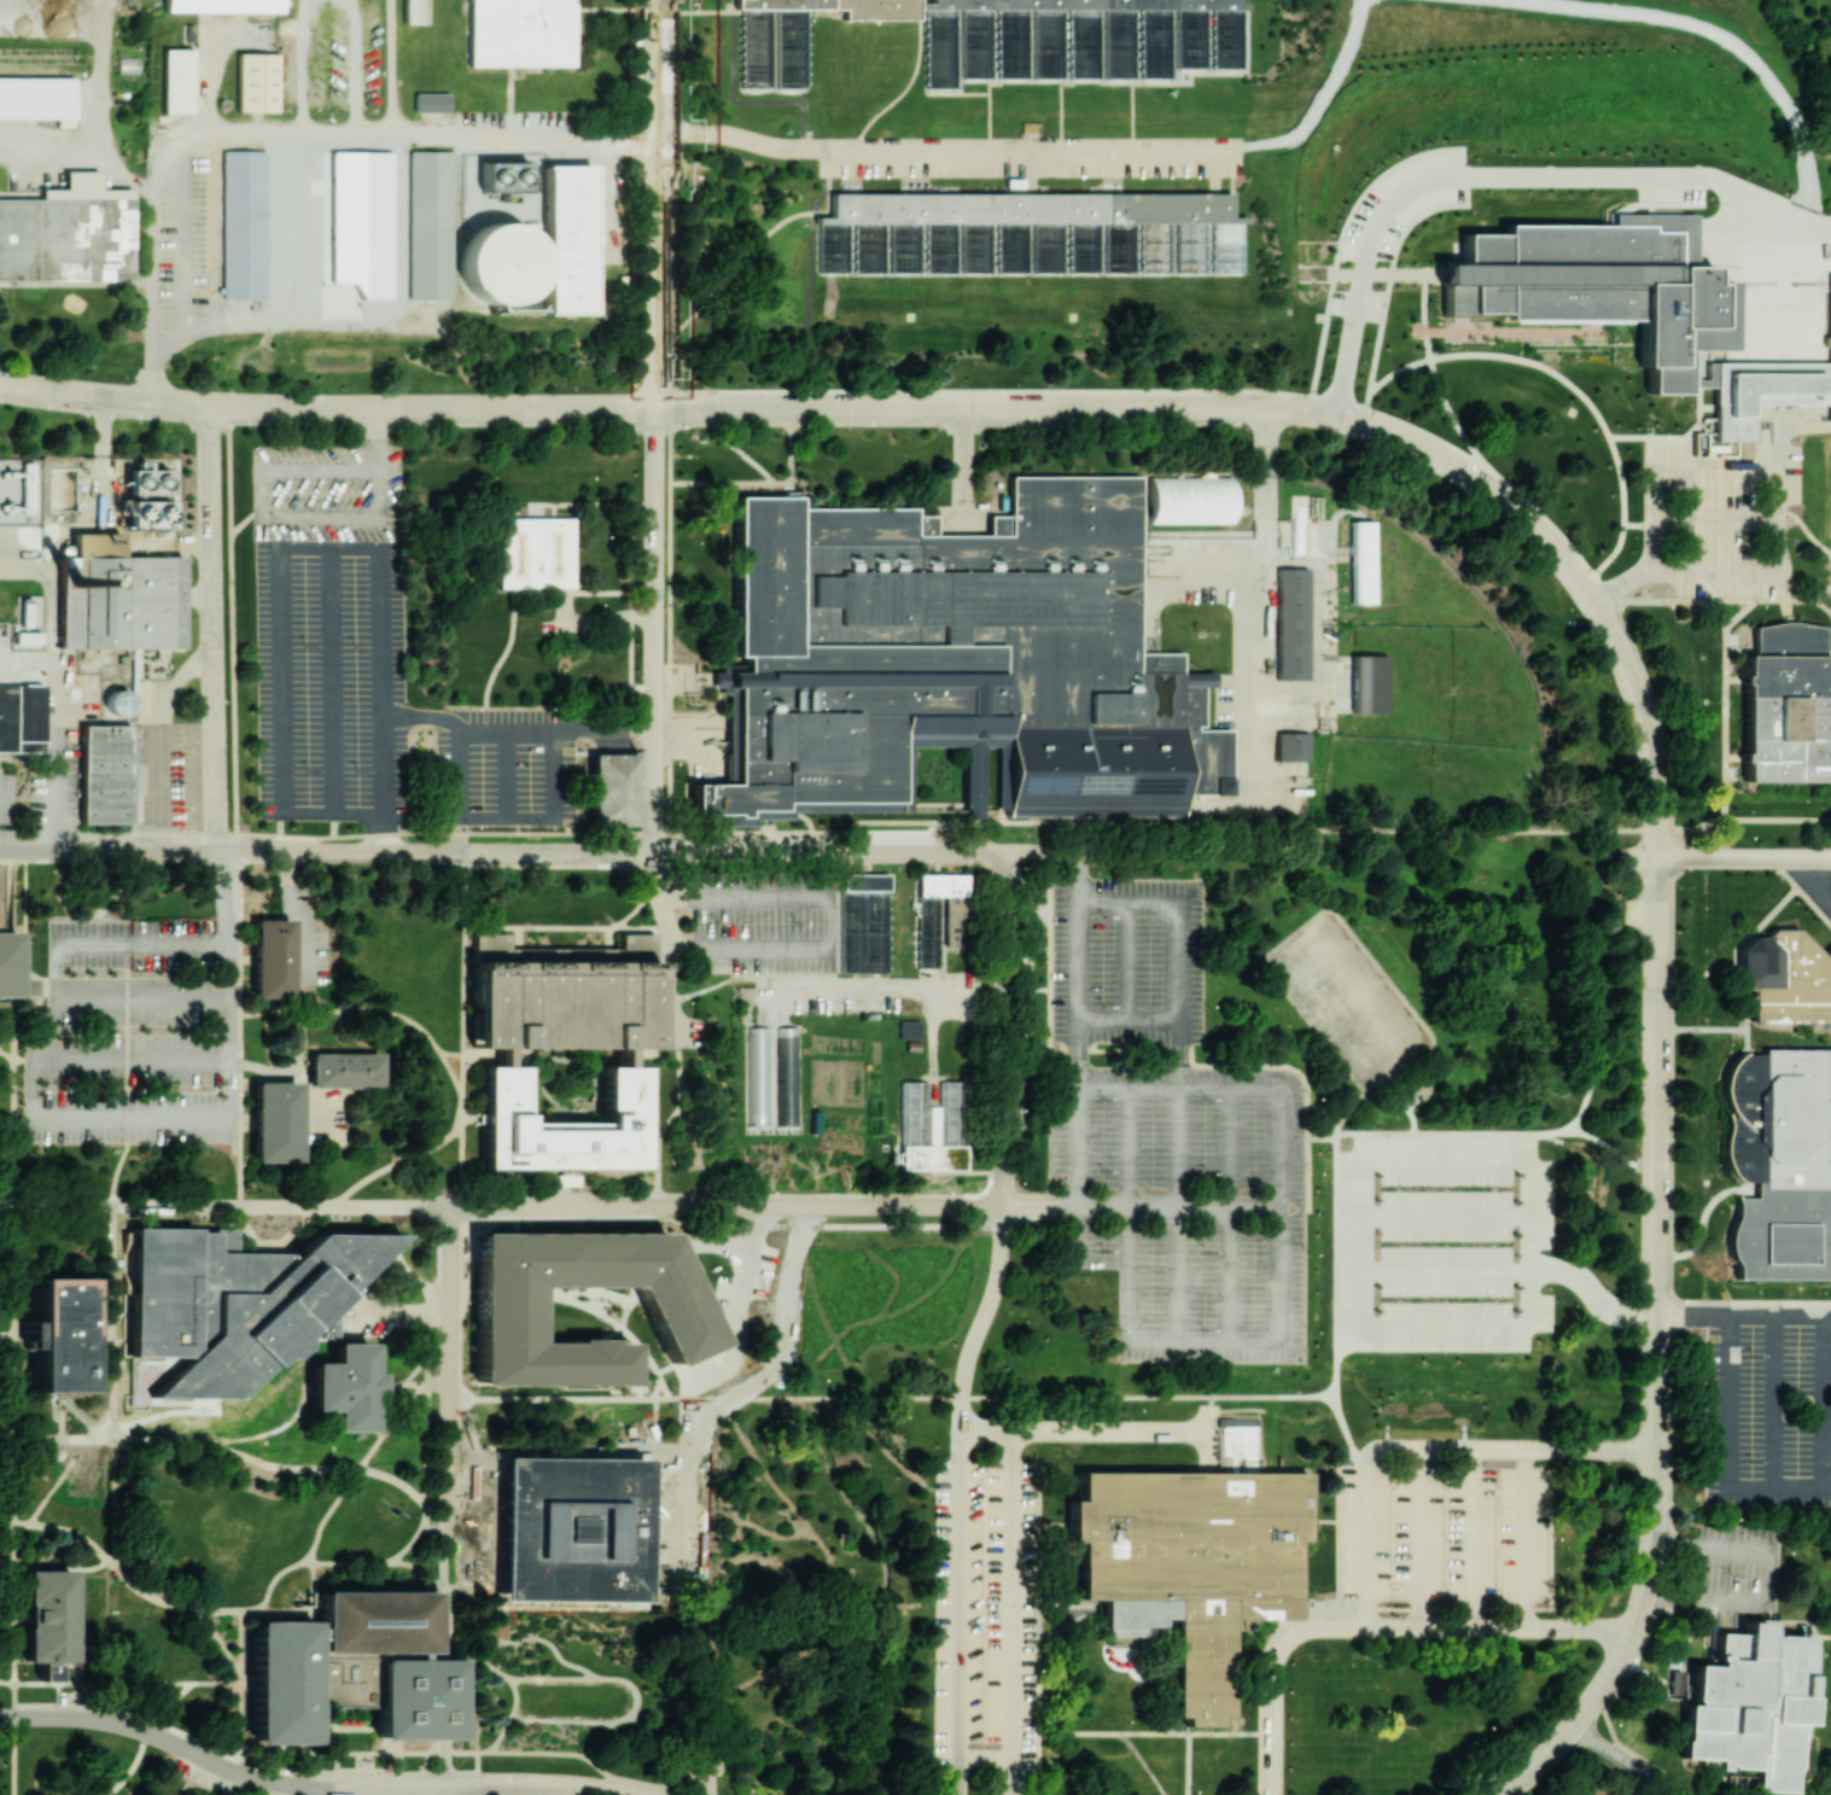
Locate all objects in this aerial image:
building: (222, 5)
building: (410, 11)
building: (520, 33)
building: (1010, 37)
building: (176, 80)
building: (256, 82)
building: (36, 98)
building: (430, 101)
road: (284, 140)
road: (97, 141)
road: (939, 147)
building: (379, 161)
road: (1550, 180)
road: (653, 203)
building: (243, 225)
building: (430, 225)
building: (68, 233)
building: (1030, 233)
building: (567, 239)
building: (502, 267)
building: (1634, 309)
road: (325, 407)
road: (1289, 408)
road: (962, 460)
road: (1261, 482)
building: (1188, 500)
road: (1804, 531)
building: (95, 544)
building: (533, 552)
building: (1360, 561)
road: (1821, 591)
road: (280, 595)
building: (119, 601)
building: (1290, 623)
road: (211, 628)
road: (653, 629)
building: (27, 637)
building: (956, 657)
building: (1829, 672)
road: (331, 681)
building: (1368, 683)
road: (49, 688)
building: (118, 701)
building: (1784, 705)
road: (415, 715)
building: (21, 717)
road: (1720, 717)
road: (553, 727)
building: (1290, 746)
building: (104, 774)
building: (612, 788)
road: (544, 815)
road: (1237, 827)
road: (326, 852)
road: (827, 852)
road: (1743, 856)
road: (600, 861)
road: (1812, 885)
road: (829, 916)
building: (940, 917)
building: (861, 922)
road: (84, 942)
road: (671, 945)
building: (270, 958)
road: (1176, 962)
building: (10, 968)
building: (1782, 979)
road: (1075, 991)
building: (561, 993)
road: (141, 1000)
road: (358, 1008)
road: (30, 1015)
road: (461, 1027)
building: (908, 1028)
road: (99, 1056)
road: (14, 1059)
road: (11, 1063)
building: (344, 1070)
building: (771, 1078)
road: (231, 1083)
road: (240, 1108)
building: (274, 1120)
building: (931, 1124)
building: (562, 1125)
road: (16, 1135)
road: (1001, 1142)
road: (432, 1147)
road: (1398, 1149)
building: (1777, 1161)
road: (119, 1175)
road: (222, 1204)
road: (723, 1204)
road: (1141, 1205)
road: (514, 1218)
road: (863, 1223)
road: (1126, 1223)
road: (431, 1265)
road: (1465, 1267)
road: (445, 1287)
building: (234, 1300)
building: (502, 1315)
road: (12, 1333)
building: (59, 1334)
road: (1652, 1352)
building: (344, 1386)
road: (925, 1398)
road: (1724, 1403)
road: (13, 1434)
building: (1238, 1434)
road: (1425, 1444)
road: (314, 1468)
road: (56, 1481)
road: (346, 1482)
building: (570, 1525)
park: (228, 1560)
building: (1193, 1564)
road: (448, 1590)
road: (1010, 1591)
road: (146, 1593)
park: (823, 1596)
road: (958, 1612)
road: (1304, 1616)
road: (12, 1619)
building: (48, 1620)
building: (373, 1621)
road: (1376, 1626)
road: (597, 1677)
road: (550, 1679)
building: (281, 1682)
road: (126, 1683)
road: (240, 1692)
building: (413, 1697)
building: (1745, 1707)
road: (1055, 1732)
road: (144, 1736)
road: (659, 1746)
road: (514, 1753)
park: (87, 1764)
road: (398, 1773)
road: (477, 1773)
road: (197, 1785)
road: (307, 1785)
park: (240, 1789)
road: (415, 1790)
road: (441, 1790)

